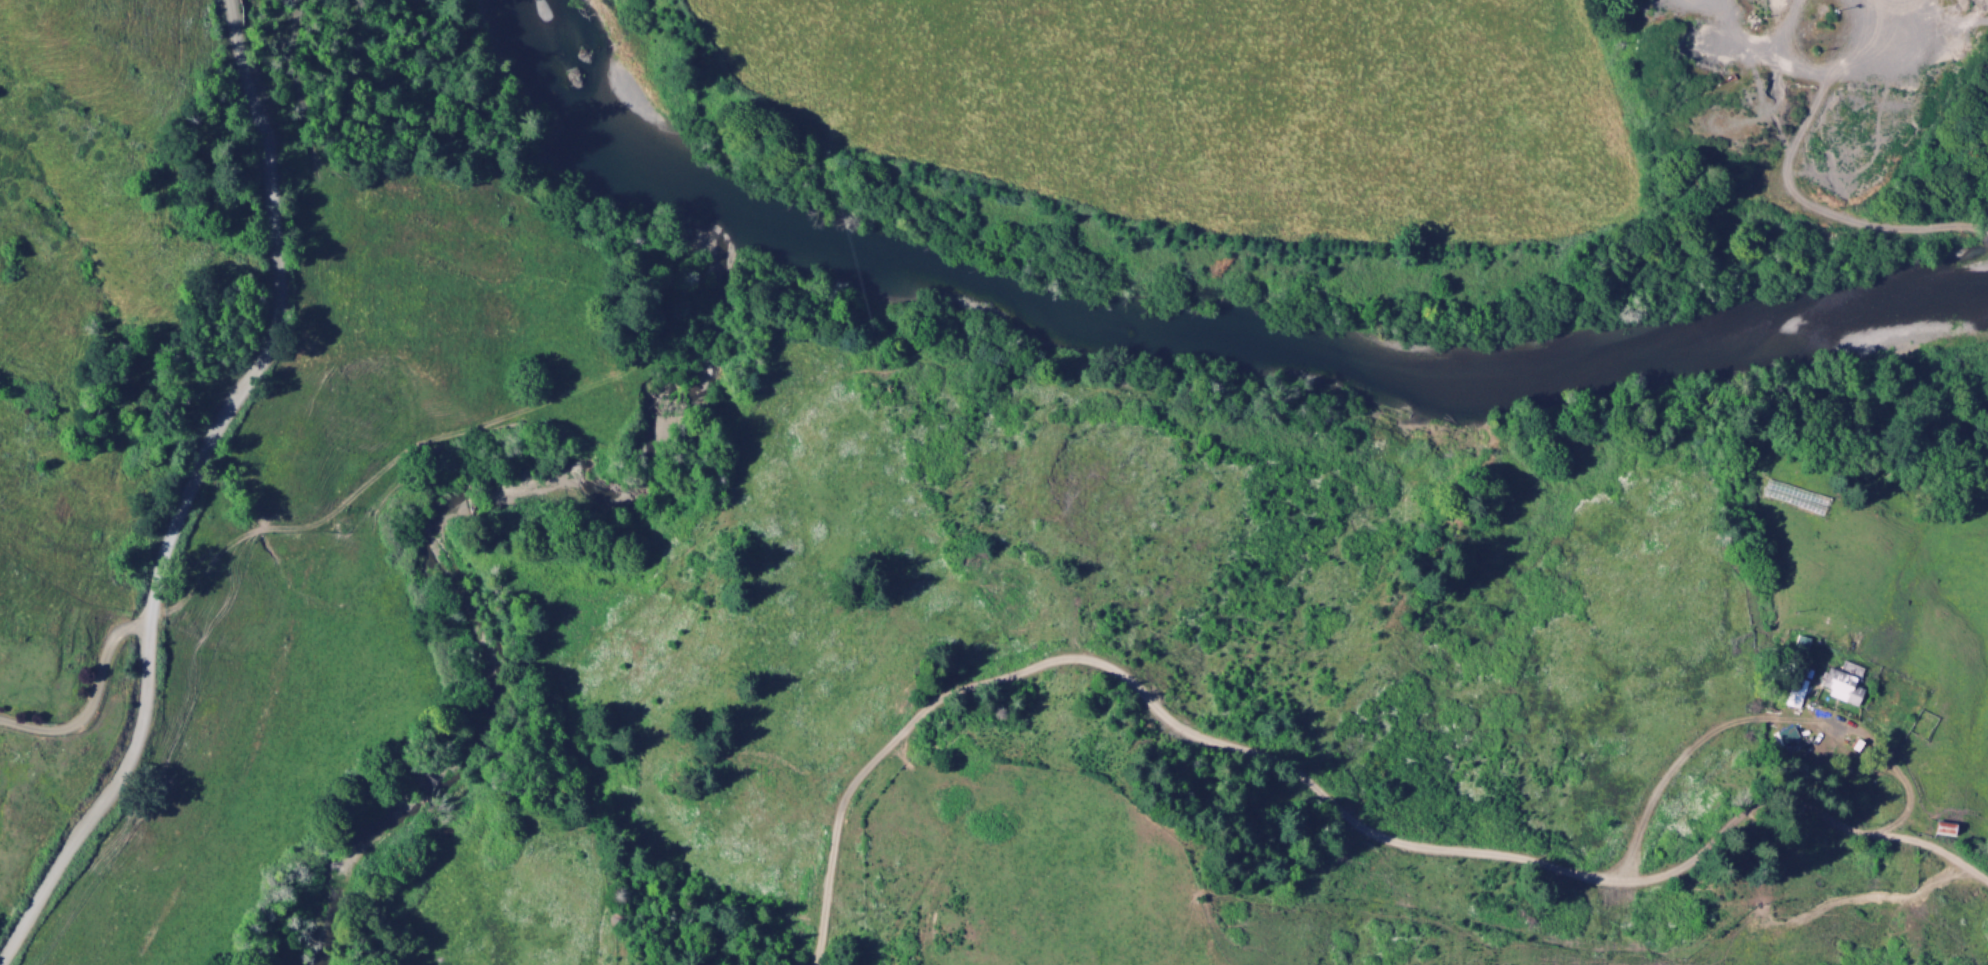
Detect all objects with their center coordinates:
road: (1788, 174)
river: (1190, 340)
road: (186, 489)
building: (1798, 648)
building: (1841, 684)
building: (1792, 694)
road: (90, 701)
building: (1785, 739)
road: (1309, 788)

